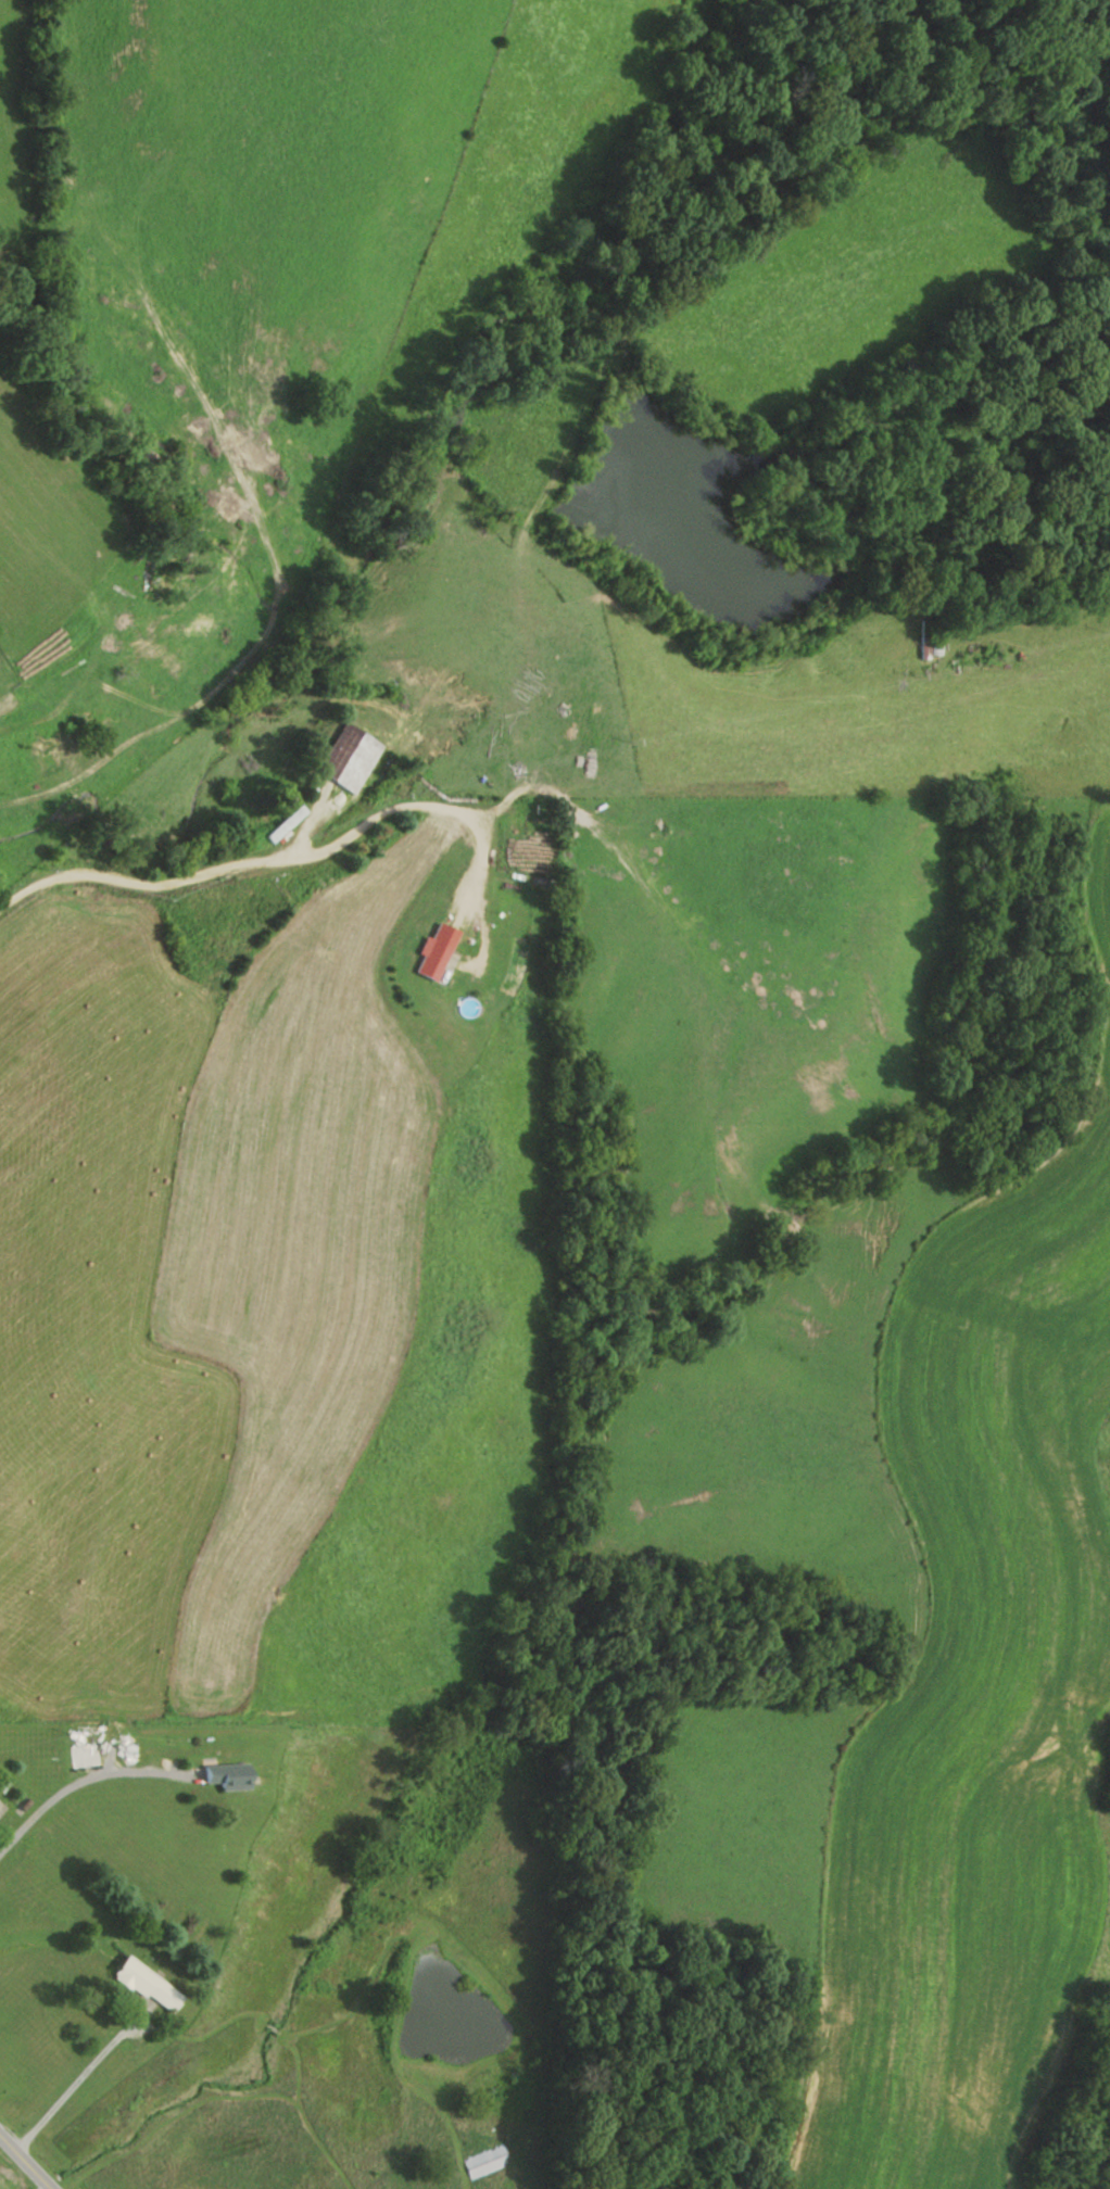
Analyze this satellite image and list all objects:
building: (343, 758)
road: (140, 876)
building: (430, 951)
building: (79, 1755)
road: (77, 1782)
building: (142, 1984)
road: (72, 2084)
road: (26, 2160)

